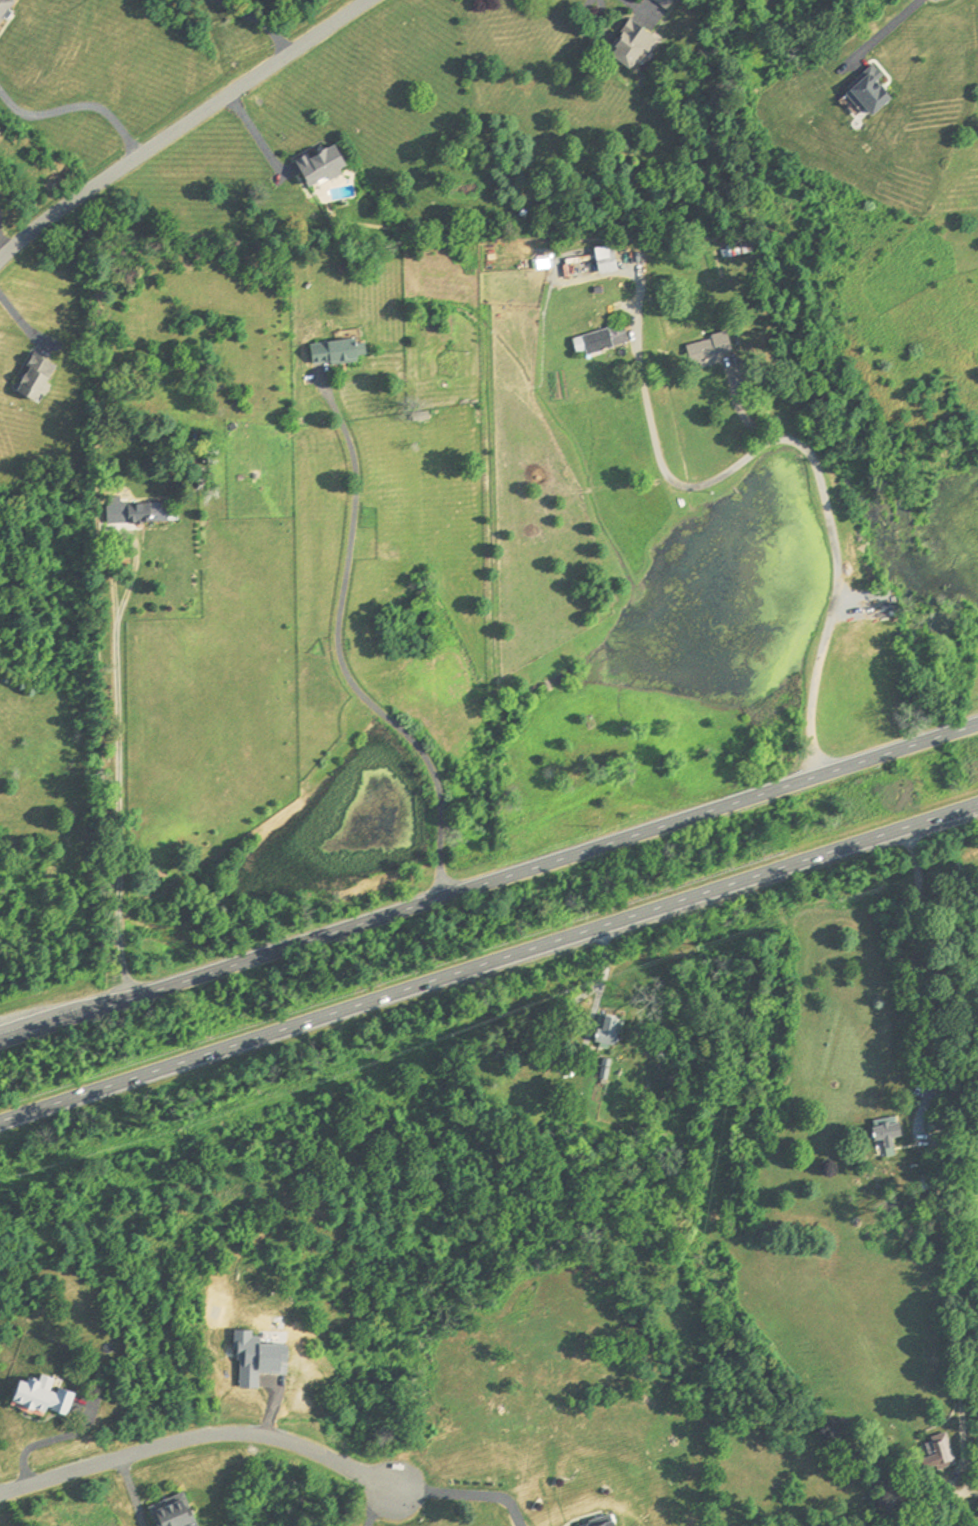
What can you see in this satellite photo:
building: (4, 6)
road: (258, 23)
road: (891, 25)
building: (629, 46)
building: (867, 94)
road: (78, 106)
road: (184, 129)
building: (319, 166)
building: (604, 259)
building: (599, 341)
building: (707, 351)
building: (334, 353)
building: (33, 380)
road: (740, 409)
road: (818, 483)
building: (135, 513)
road: (342, 591)
road: (117, 774)
road: (437, 786)
road: (439, 849)
road: (489, 886)
road: (489, 965)
road: (601, 985)
building: (604, 1036)
building: (885, 1134)
road: (940, 1144)
building: (40, 1399)
road: (197, 1439)
road: (47, 1443)
building: (938, 1449)
road: (465, 1493)
park: (952, 1501)
road: (373, 1507)
building: (170, 1511)

